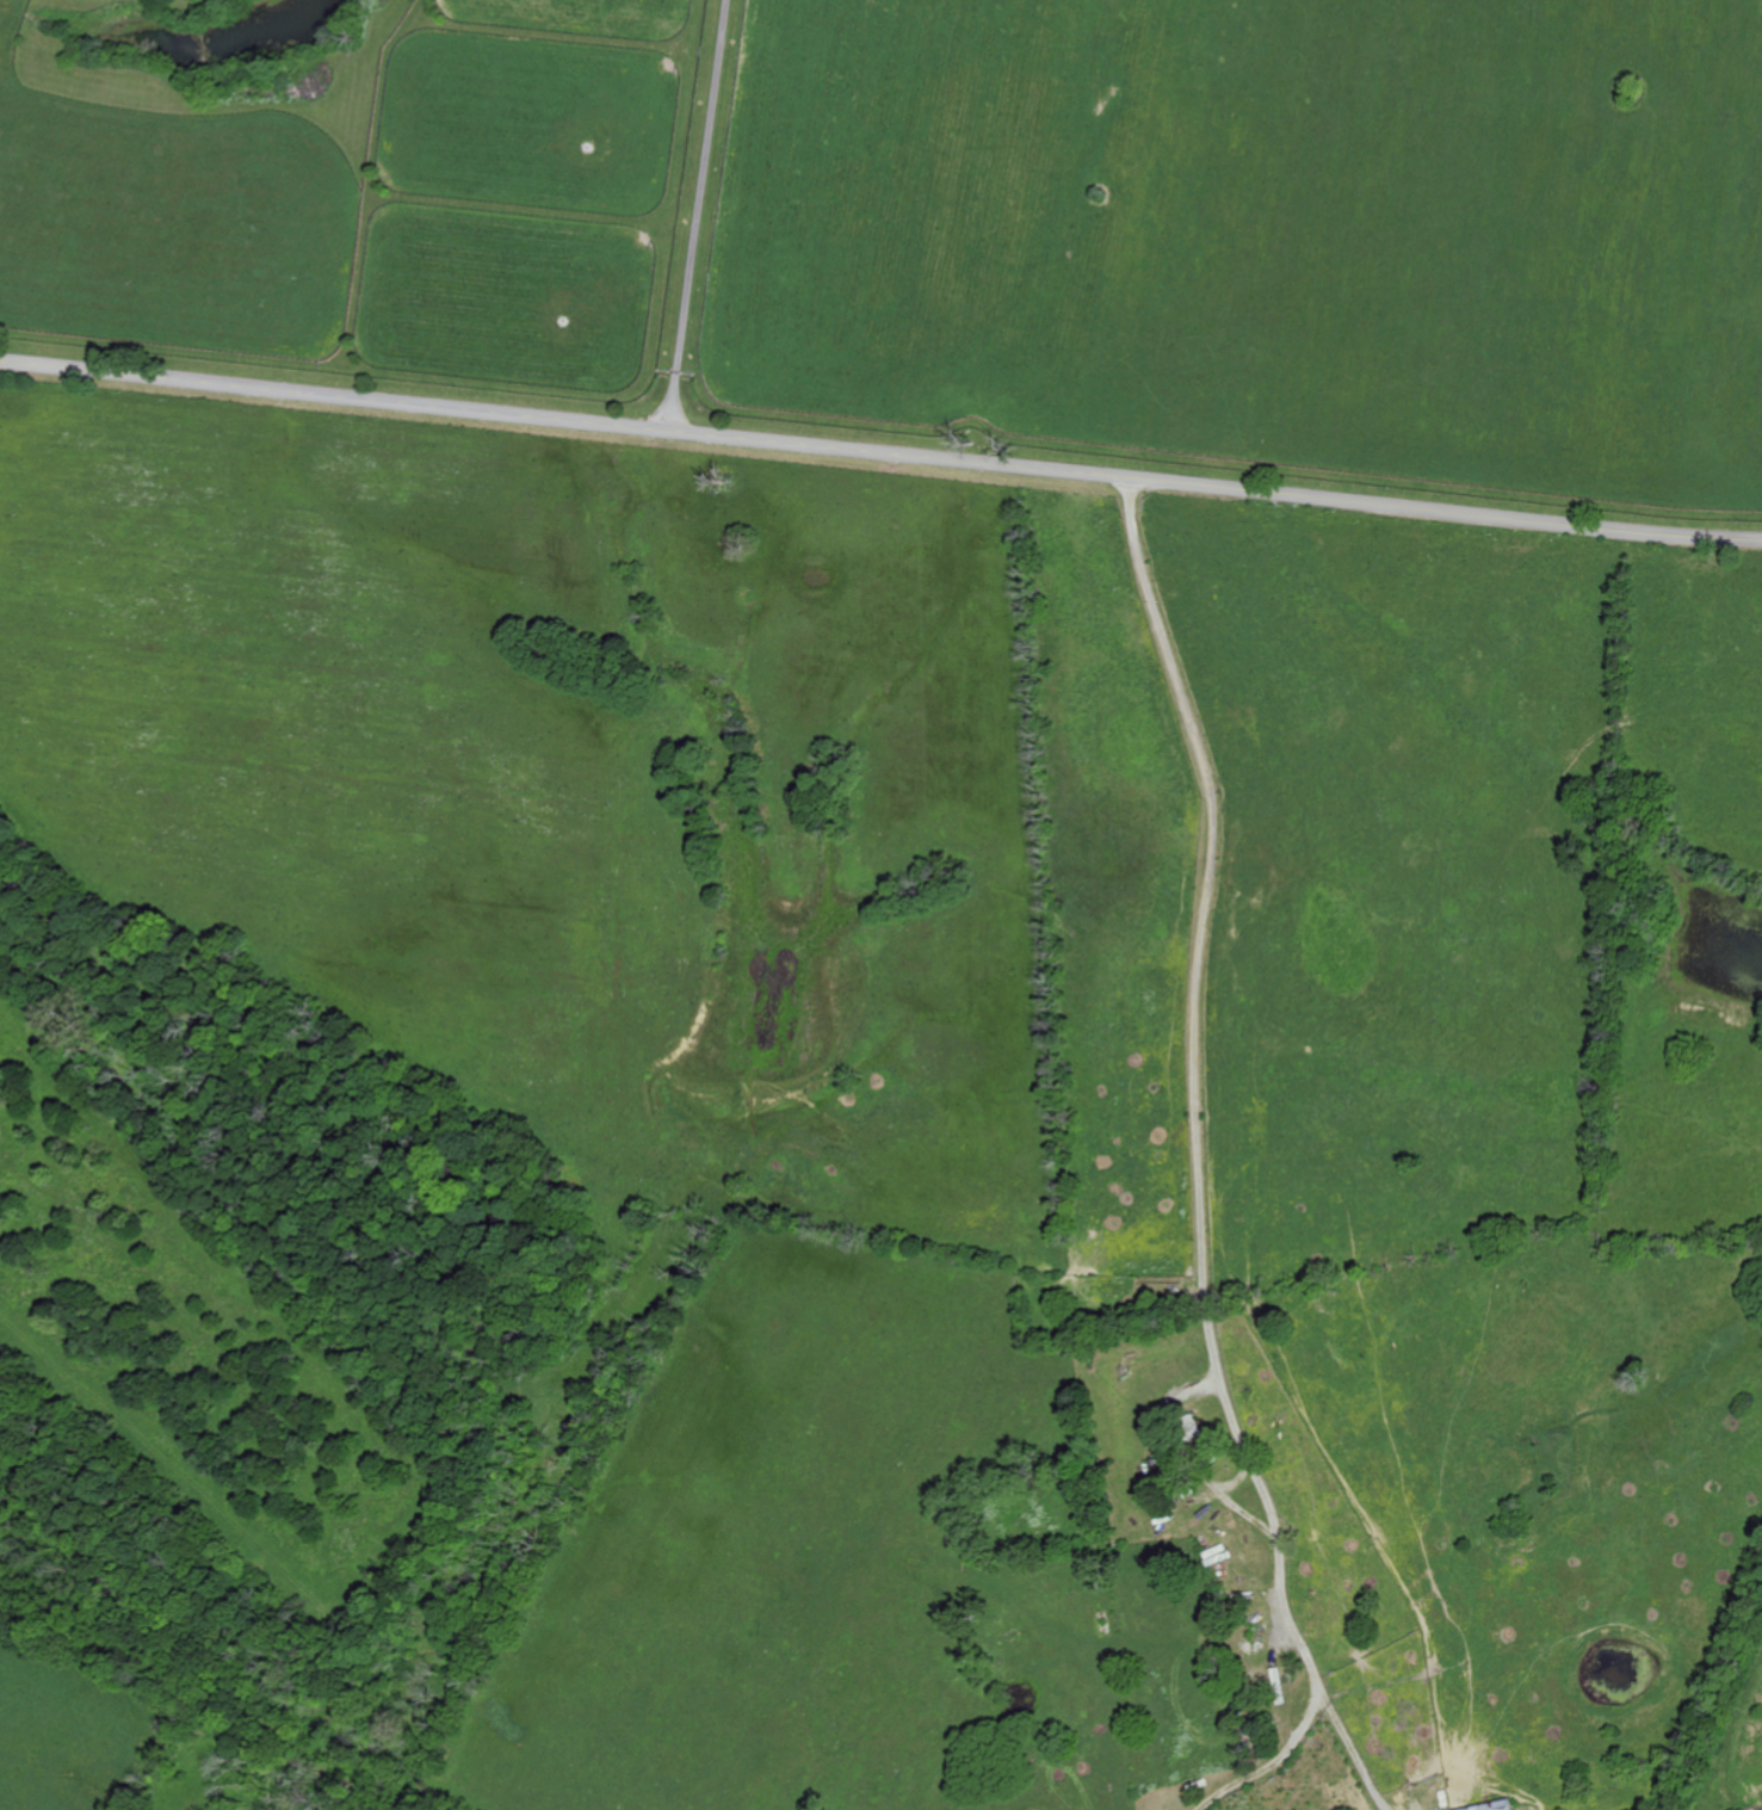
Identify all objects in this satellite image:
road: (698, 214)
road: (880, 451)
road: (1195, 1080)
building: (1155, 1460)
building: (1142, 1462)
building: (1160, 1474)
building: (1102, 1620)
building: (1501, 1806)

